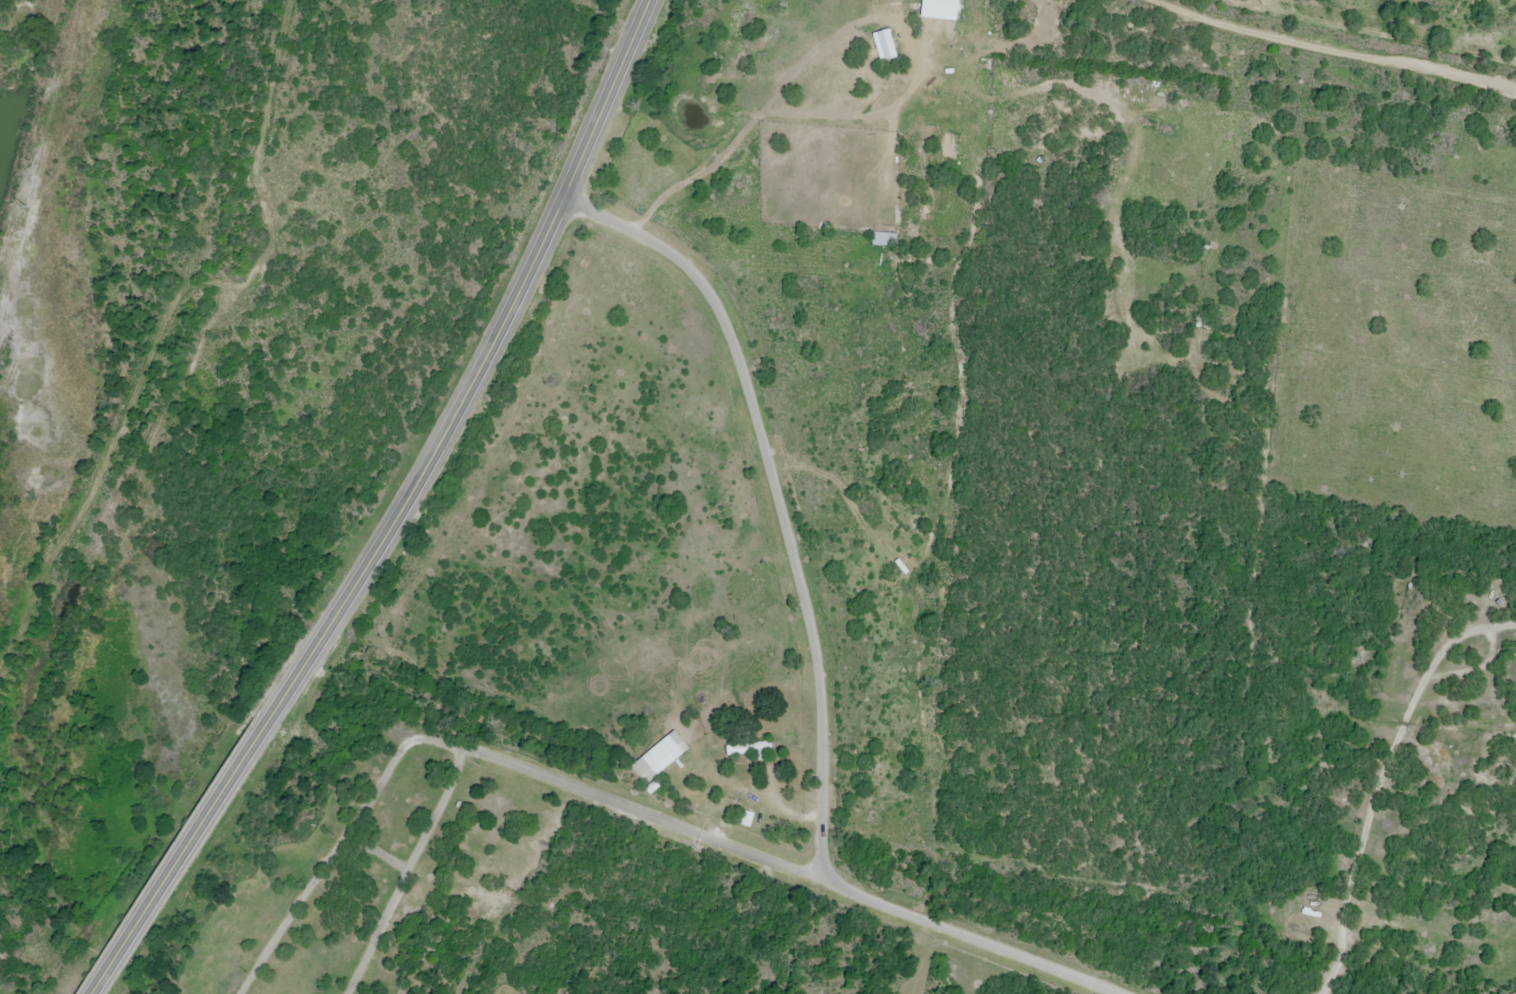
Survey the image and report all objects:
road: (1340, 47)
power tower: (61, 62)
road: (607, 100)
power tower: (24, 206)
railway: (138, 370)
road: (349, 608)
road: (813, 647)
building: (749, 750)
road: (475, 754)
building: (662, 756)
road: (651, 819)
road: (341, 843)
road: (375, 856)
park: (373, 862)
road: (405, 872)

